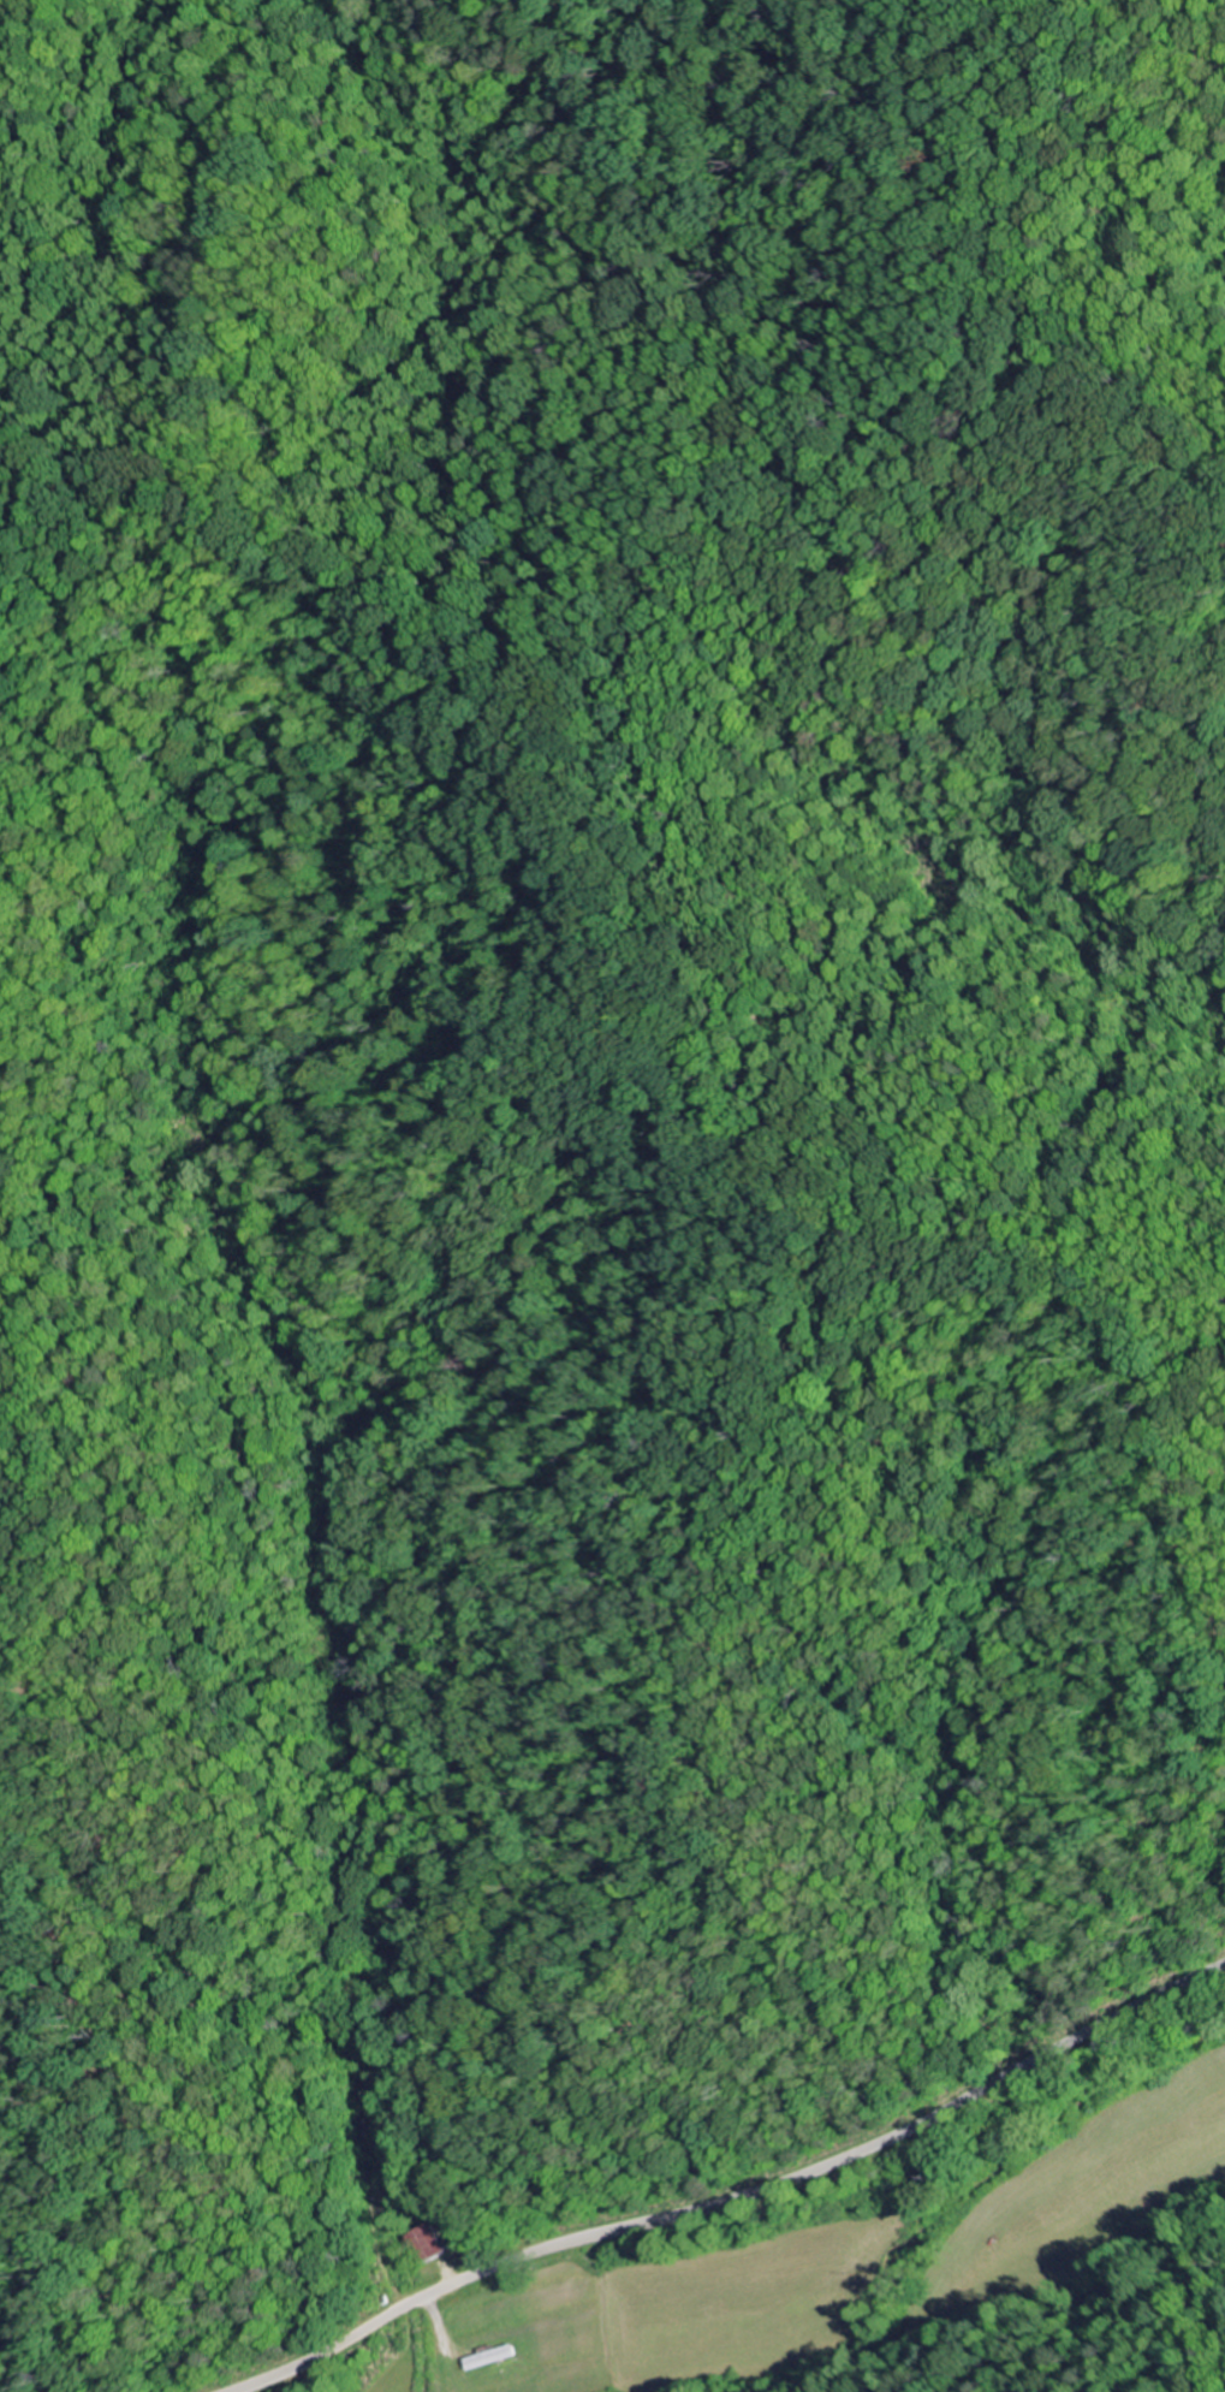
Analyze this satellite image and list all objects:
road: (892, 1995)
road: (735, 2198)

